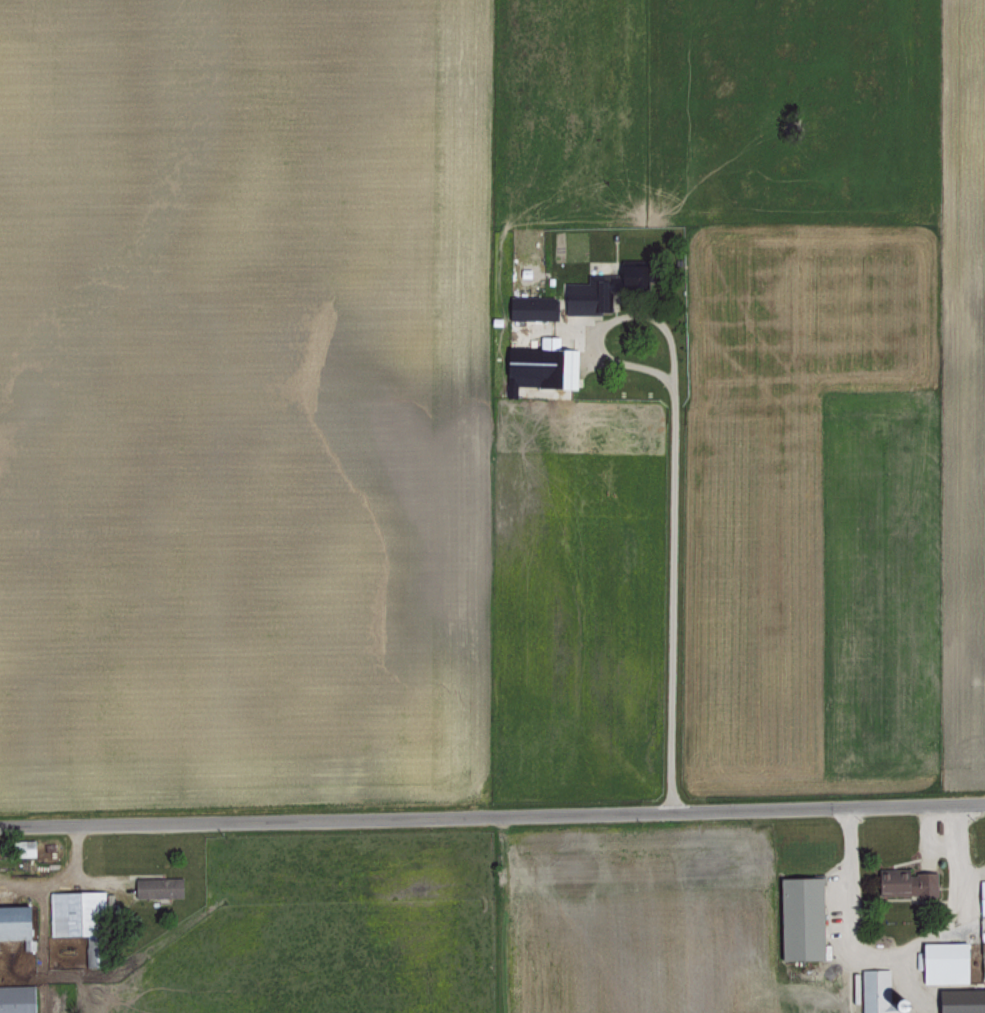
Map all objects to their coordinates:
building: (629, 274)
building: (584, 294)
building: (530, 306)
building: (540, 363)
road: (670, 537)
road: (492, 814)
building: (26, 847)
road: (58, 876)
building: (904, 883)
building: (156, 886)
building: (980, 895)
building: (74, 909)
building: (798, 917)
building: (14, 921)
road: (900, 947)
building: (942, 961)
building: (873, 991)
building: (15, 998)
building: (960, 1000)

